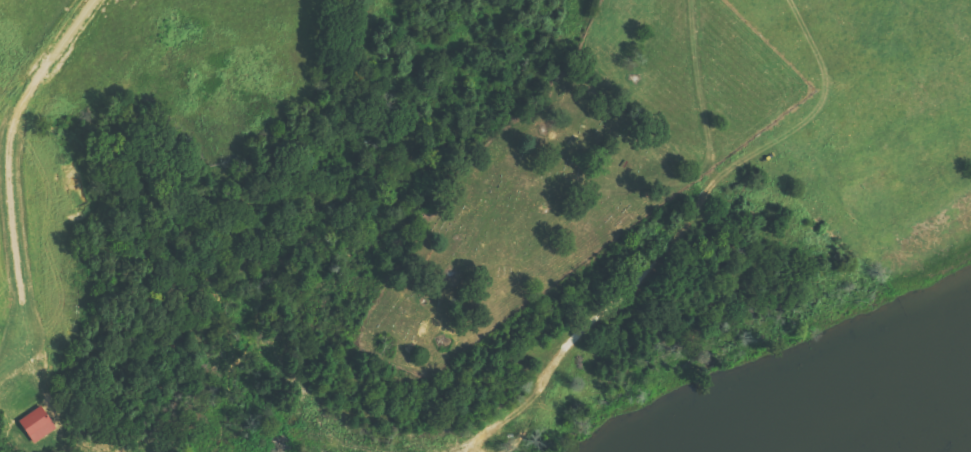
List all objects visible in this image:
park: (552, 180)

